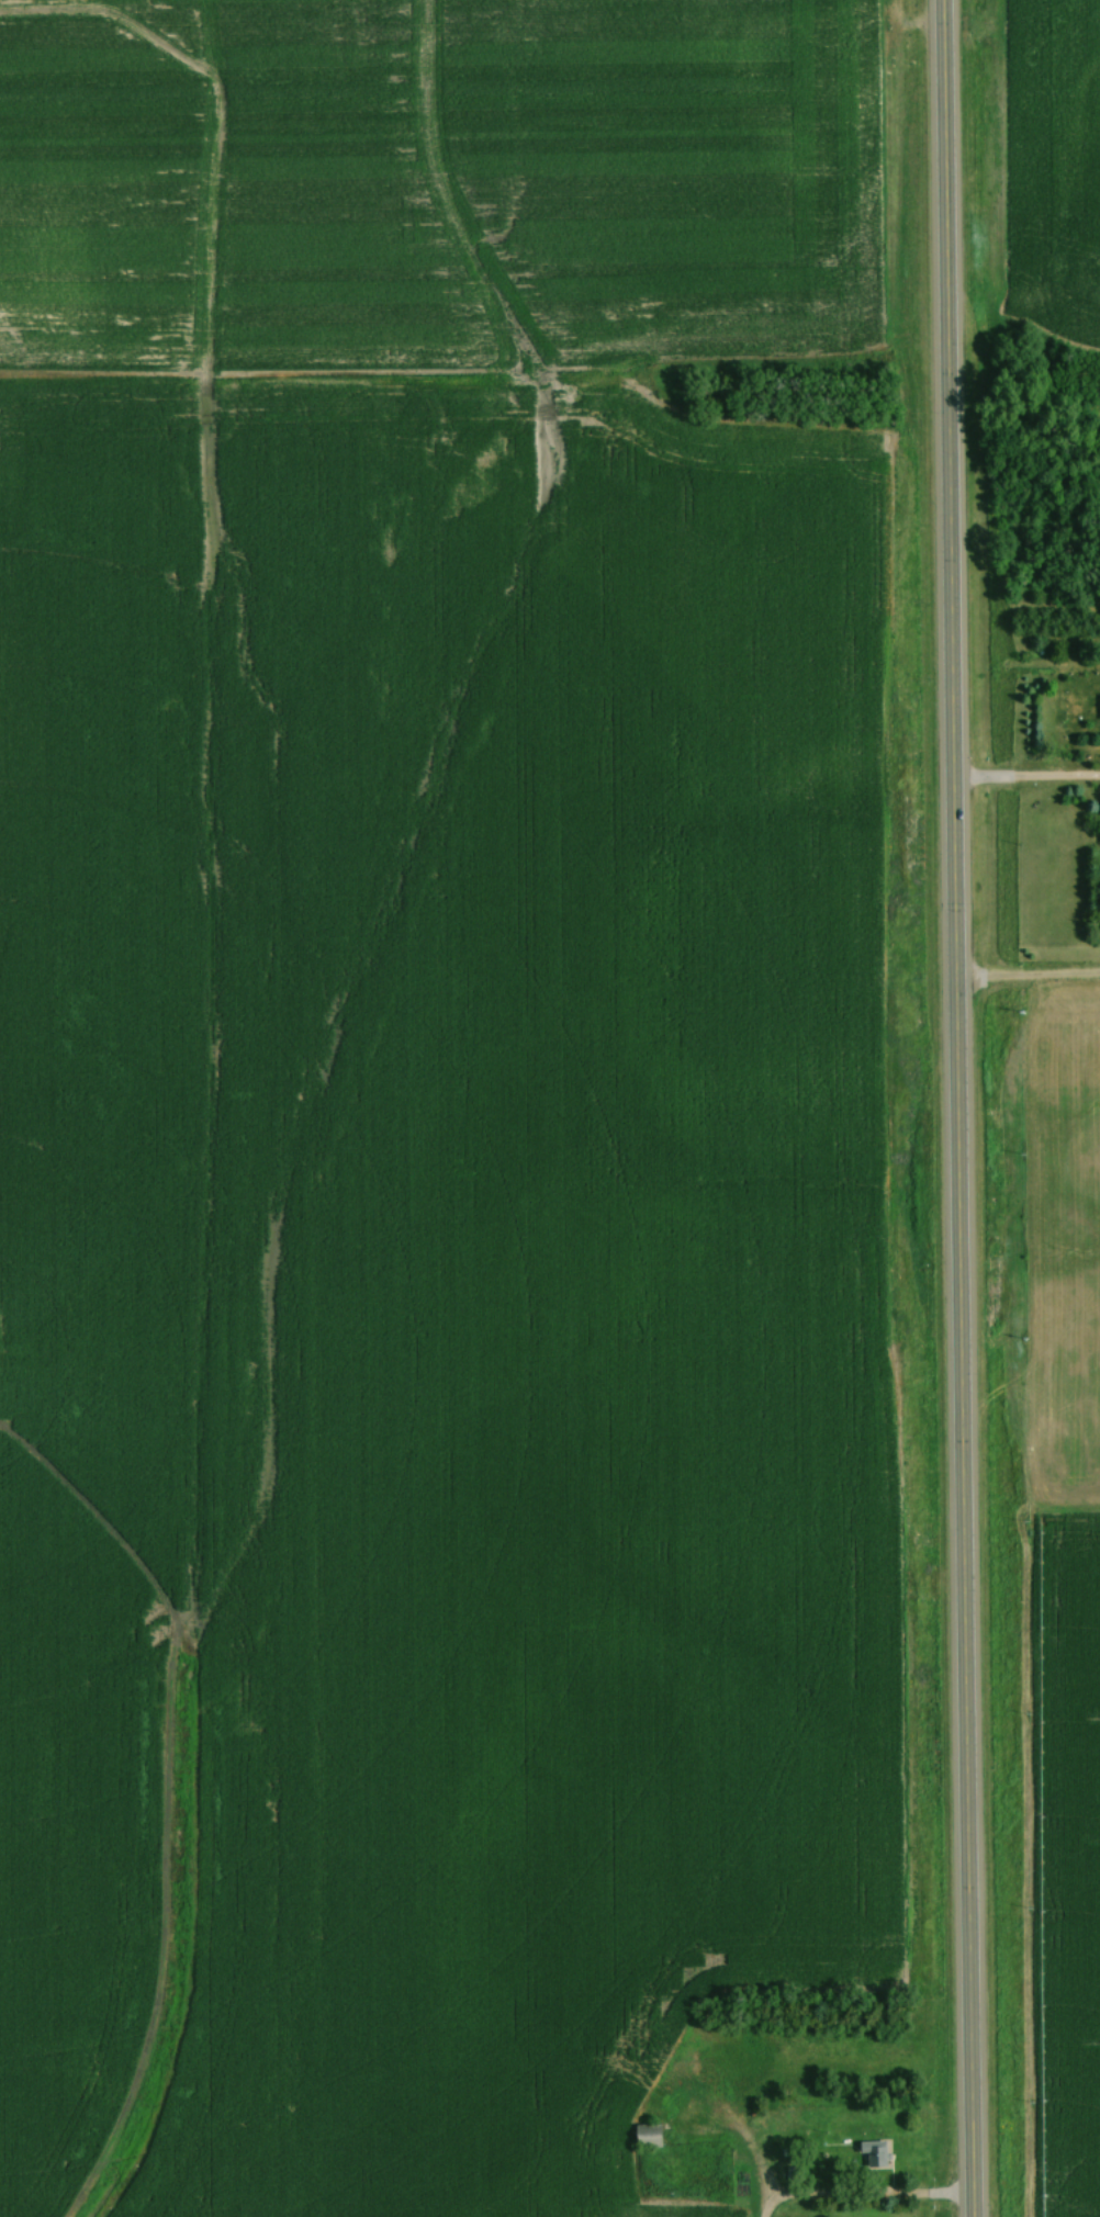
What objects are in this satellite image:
road: (1025, 777)
road: (955, 1108)
building: (646, 2135)
building: (873, 2153)
road: (866, 2198)

